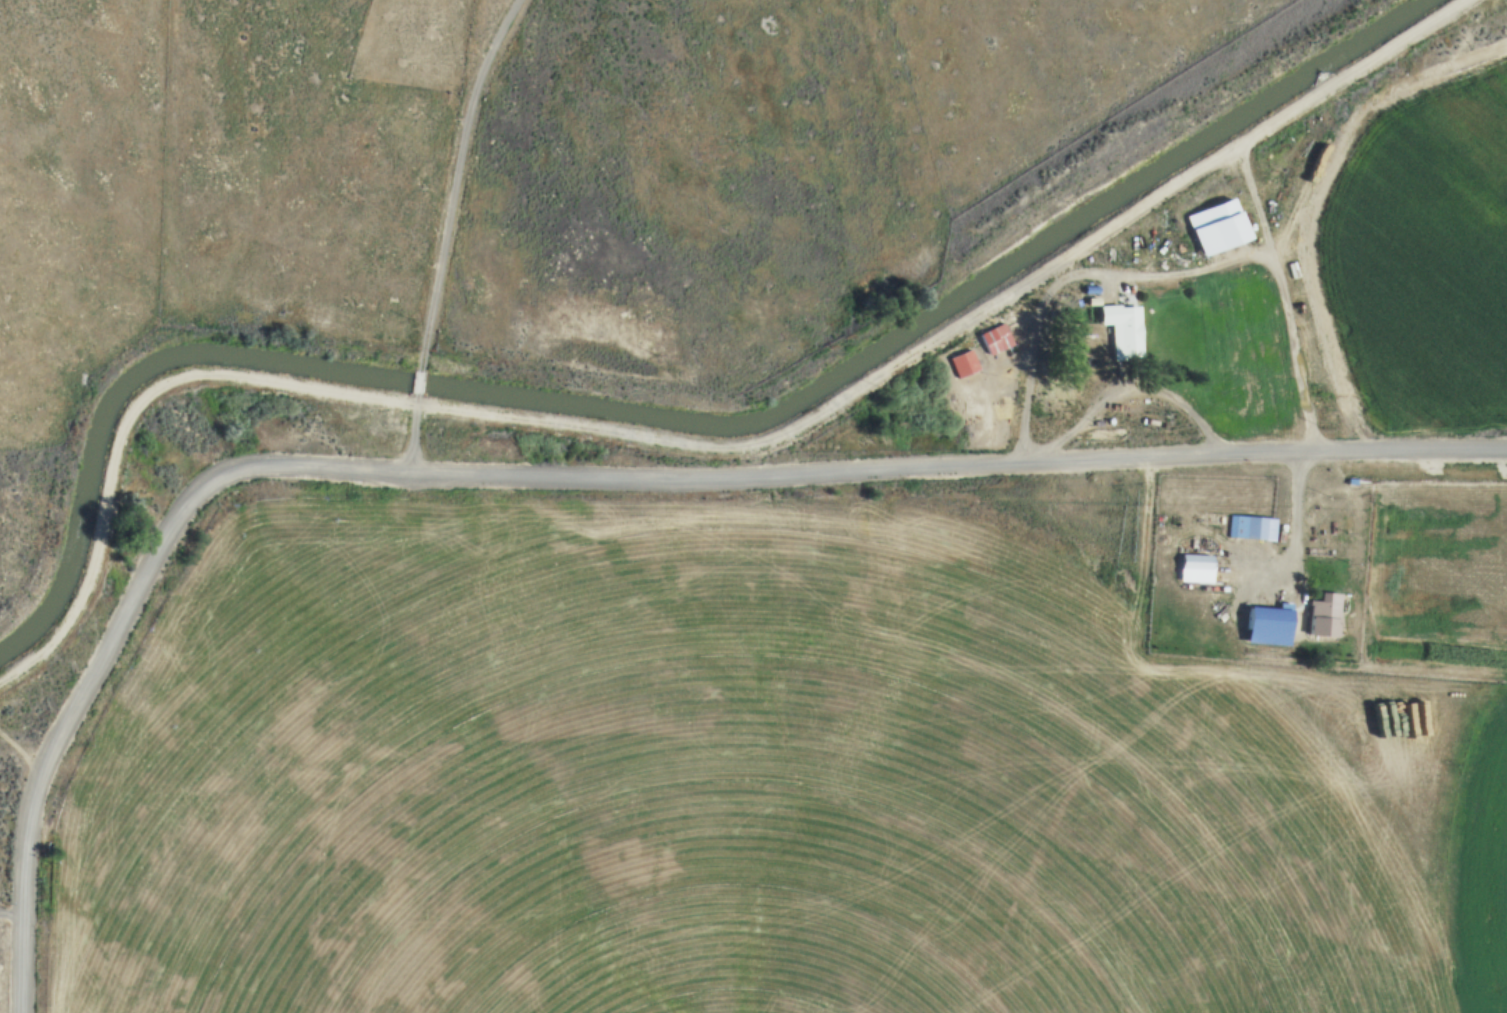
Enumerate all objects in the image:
road: (22, 67)
road: (453, 179)
building: (1213, 226)
road: (1124, 269)
road: (1068, 275)
building: (1087, 289)
building: (1089, 300)
building: (1120, 331)
road: (416, 382)
road: (1129, 384)
road: (1303, 392)
road: (409, 433)
road: (699, 446)
road: (564, 474)
building: (1192, 562)
building: (1321, 614)
building: (1264, 625)
road: (1125, 675)
road: (9, 912)

